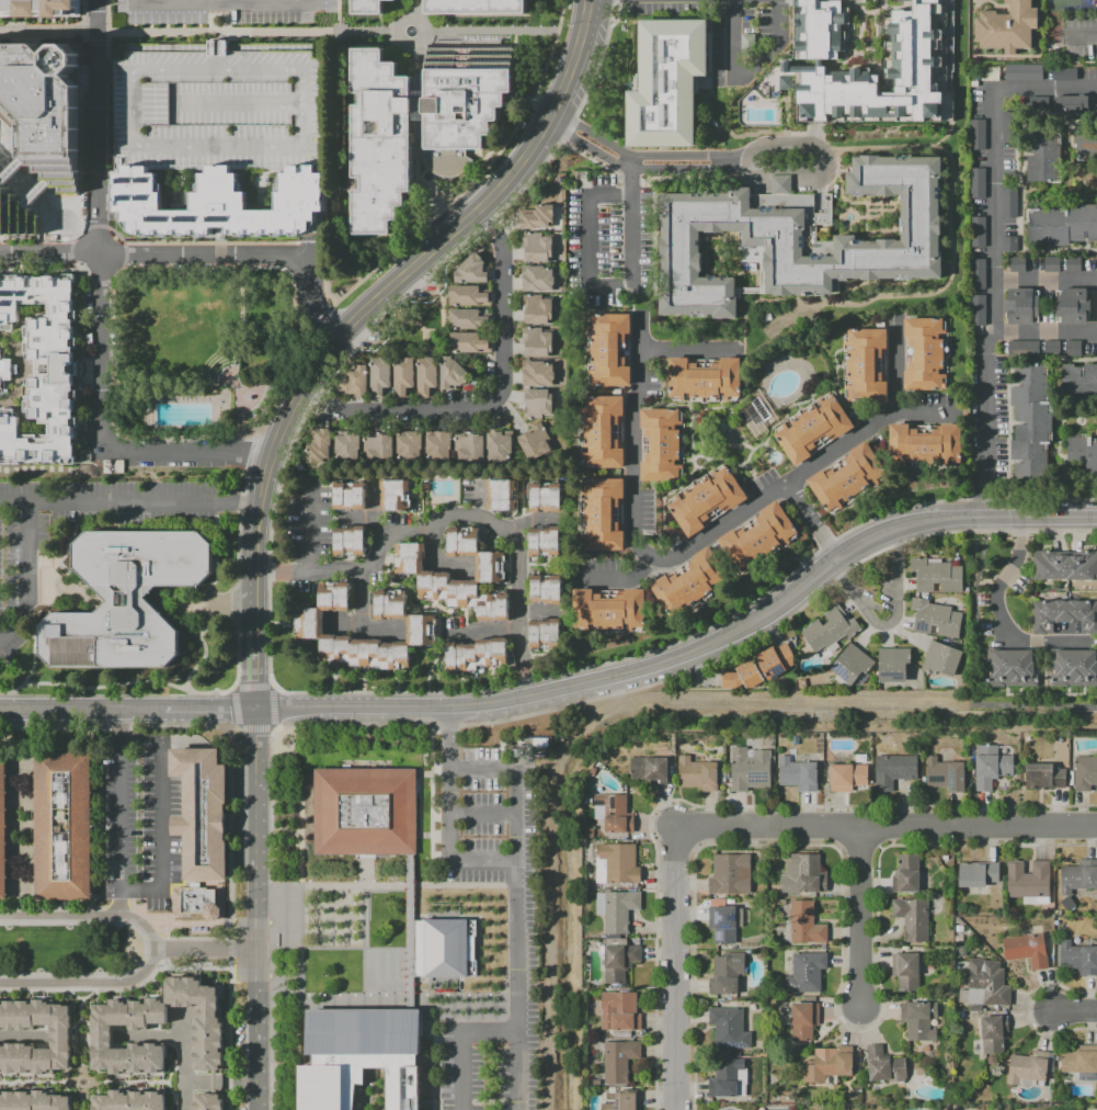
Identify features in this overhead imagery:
road: (118, 4)
road: (226, 4)
building: (369, 7)
building: (477, 7)
building: (39, 8)
road: (414, 9)
parking lot: (221, 13)
road: (407, 18)
road: (212, 19)
road: (227, 19)
building: (1007, 26)
fountain: (411, 31)
road: (492, 31)
road: (197, 33)
road: (1082, 36)
road: (446, 39)
building: (796, 63)
road: (419, 68)
road: (107, 69)
building: (1063, 72)
building: (1027, 73)
road: (746, 77)
building: (701, 81)
building: (670, 84)
road: (534, 93)
building: (50, 101)
road: (537, 101)
building: (1073, 106)
building: (224, 107)
parking lot: (224, 107)
building: (421, 122)
road: (100, 128)
building: (1013, 128)
building: (981, 136)
road: (341, 139)
building: (1, 140)
building: (1088, 144)
building: (1049, 155)
road: (481, 160)
road: (687, 163)
road: (743, 163)
building: (23, 171)
road: (438, 177)
fountain: (428, 178)
road: (632, 180)
road: (433, 181)
road: (419, 183)
building: (780, 183)
building: (981, 185)
street lamp: (453, 194)
building: (48, 195)
street lamp: (427, 199)
road: (87, 202)
parking lot: (456, 204)
building: (1013, 204)
street lamp: (443, 205)
building: (219, 206)
road: (94, 214)
building: (20, 217)
building: (540, 218)
building: (1063, 226)
building: (981, 233)
street lamp: (347, 234)
building: (798, 239)
road: (586, 240)
building: (1013, 245)
street lamp: (356, 247)
road: (310, 248)
road: (315, 248)
road: (68, 249)
road: (306, 249)
building: (539, 249)
road: (993, 251)
road: (198, 259)
building: (1019, 265)
building: (1054, 265)
building: (1076, 265)
street lamp: (363, 268)
road: (241, 269)
building: (472, 270)
street lamp: (128, 271)
street lamp: (345, 271)
road: (372, 272)
road: (407, 273)
street lamp: (151, 274)
building: (981, 275)
street lamp: (124, 277)
street lamp: (204, 277)
building: (540, 280)
street lamp: (118, 282)
road: (1044, 283)
street lamp: (282, 285)
building: (469, 295)
building: (1024, 307)
building: (1075, 307)
building: (981, 310)
building: (540, 312)
street lamp: (122, 313)
building: (464, 318)
road: (1044, 332)
road: (245, 339)
building: (469, 343)
building: (540, 343)
road: (242, 346)
building: (614, 349)
road: (688, 350)
building: (1026, 350)
building: (1055, 350)
building: (1076, 350)
park: (203, 351)
building: (930, 352)
building: (869, 363)
street lamp: (278, 365)
building: (8, 371)
building: (68, 371)
street lamp: (122, 371)
road: (242, 374)
building: (454, 374)
building: (540, 374)
building: (426, 375)
building: (380, 376)
building: (404, 376)
building: (709, 378)
road: (236, 382)
building: (355, 382)
building: (1079, 383)
road: (196, 388)
road: (229, 388)
road: (243, 389)
road: (159, 392)
road: (221, 392)
road: (111, 393)
road: (492, 399)
building: (541, 405)
road: (262, 412)
road: (243, 417)
building: (1033, 424)
building: (818, 432)
building: (607, 433)
street lamp: (148, 435)
street lamp: (194, 435)
street lamp: (227, 435)
road: (90, 438)
road: (630, 438)
road: (103, 440)
building: (539, 443)
building: (929, 444)
building: (322, 446)
building: (412, 446)
building: (663, 446)
building: (351, 448)
building: (442, 448)
building: (472, 448)
building: (503, 448)
building: (380, 449)
building: (1082, 453)
building: (849, 478)
road: (788, 482)
building: (504, 496)
building: (352, 497)
building: (399, 497)
road: (129, 499)
building: (549, 499)
building: (710, 503)
road: (374, 511)
building: (606, 514)
road: (537, 520)
road: (811, 520)
road: (458, 524)
road: (312, 531)
building: (761, 537)
building: (353, 542)
building: (548, 543)
road: (432, 564)
building: (1065, 565)
road: (540, 566)
road: (30, 574)
building: (940, 575)
building: (436, 578)
building: (692, 582)
parking lot: (19, 588)
building: (549, 590)
building: (123, 598)
road: (361, 600)
road: (225, 603)
building: (393, 605)
road: (190, 608)
building: (612, 610)
road: (541, 613)
building: (939, 615)
building: (1064, 615)
road: (997, 616)
road: (892, 621)
building: (312, 624)
road: (365, 630)
building: (833, 631)
road: (485, 632)
road: (252, 633)
building: (549, 634)
road: (690, 654)
building: (480, 656)
building: (947, 657)
building: (780, 658)
road: (33, 659)
building: (855, 666)
building: (898, 666)
building: (1073, 667)
building: (1015, 669)
road: (975, 670)
building: (746, 676)
road: (102, 687)
road: (126, 709)
building: (994, 768)
building: (753, 770)
building: (652, 771)
building: (898, 771)
road: (436, 773)
building: (1085, 773)
building: (801, 774)
building: (700, 775)
building: (948, 775)
building: (852, 778)
building: (1048, 778)
road: (435, 795)
road: (421, 804)
building: (199, 809)
road: (8, 811)
road: (118, 812)
building: (364, 813)
road: (159, 814)
building: (616, 814)
road: (452, 816)
road: (484, 817)
parking lot: (139, 819)
building: (1, 824)
road: (255, 827)
building: (61, 828)
road: (885, 830)
road: (433, 836)
building: (619, 865)
building: (733, 875)
building: (910, 875)
building: (981, 875)
building: (807, 876)
building: (1077, 879)
building: (1029, 881)
road: (387, 886)
building: (195, 903)
road: (517, 906)
building: (619, 911)
road: (84, 915)
road: (316, 917)
road: (331, 917)
road: (346, 917)
road: (865, 920)
building: (915, 920)
building: (725, 922)
building: (807, 925)
road: (366, 929)
road: (411, 933)
road: (206, 947)
road: (335, 948)
park: (69, 949)
fountain: (129, 949)
building: (444, 950)
building: (1029, 951)
parking lot: (524, 954)
building: (1078, 958)
building: (622, 961)
flagpole: (402, 962)
fountain: (376, 965)
fountain: (386, 965)
fountain: (396, 965)
flagpole: (402, 970)
road: (675, 970)
building: (910, 972)
building: (809, 974)
building: (730, 975)
road: (259, 976)
flagpole: (402, 977)
road: (87, 981)
building: (989, 985)
road: (81, 997)
road: (388, 1003)
road: (1076, 1011)
building: (624, 1012)
building: (807, 1021)
building: (922, 1022)
building: (210, 1028)
building: (732, 1030)
building: (996, 1034)
building: (64, 1035)
road: (88, 1035)
road: (76, 1037)
road: (150, 1037)
road: (490, 1037)
road: (258, 1056)
building: (359, 1057)
road: (184, 1061)
building: (622, 1062)
building: (1082, 1063)
building: (832, 1066)
building: (887, 1066)
building: (1030, 1069)
road: (462, 1073)
building: (731, 1080)
road: (221, 1081)
road: (36, 1083)
road: (128, 1083)
road: (168, 1083)
road: (80, 1089)
road: (81, 1100)
building: (35, 1101)
building: (132, 1101)
building: (627, 1101)
building: (210, 1102)

